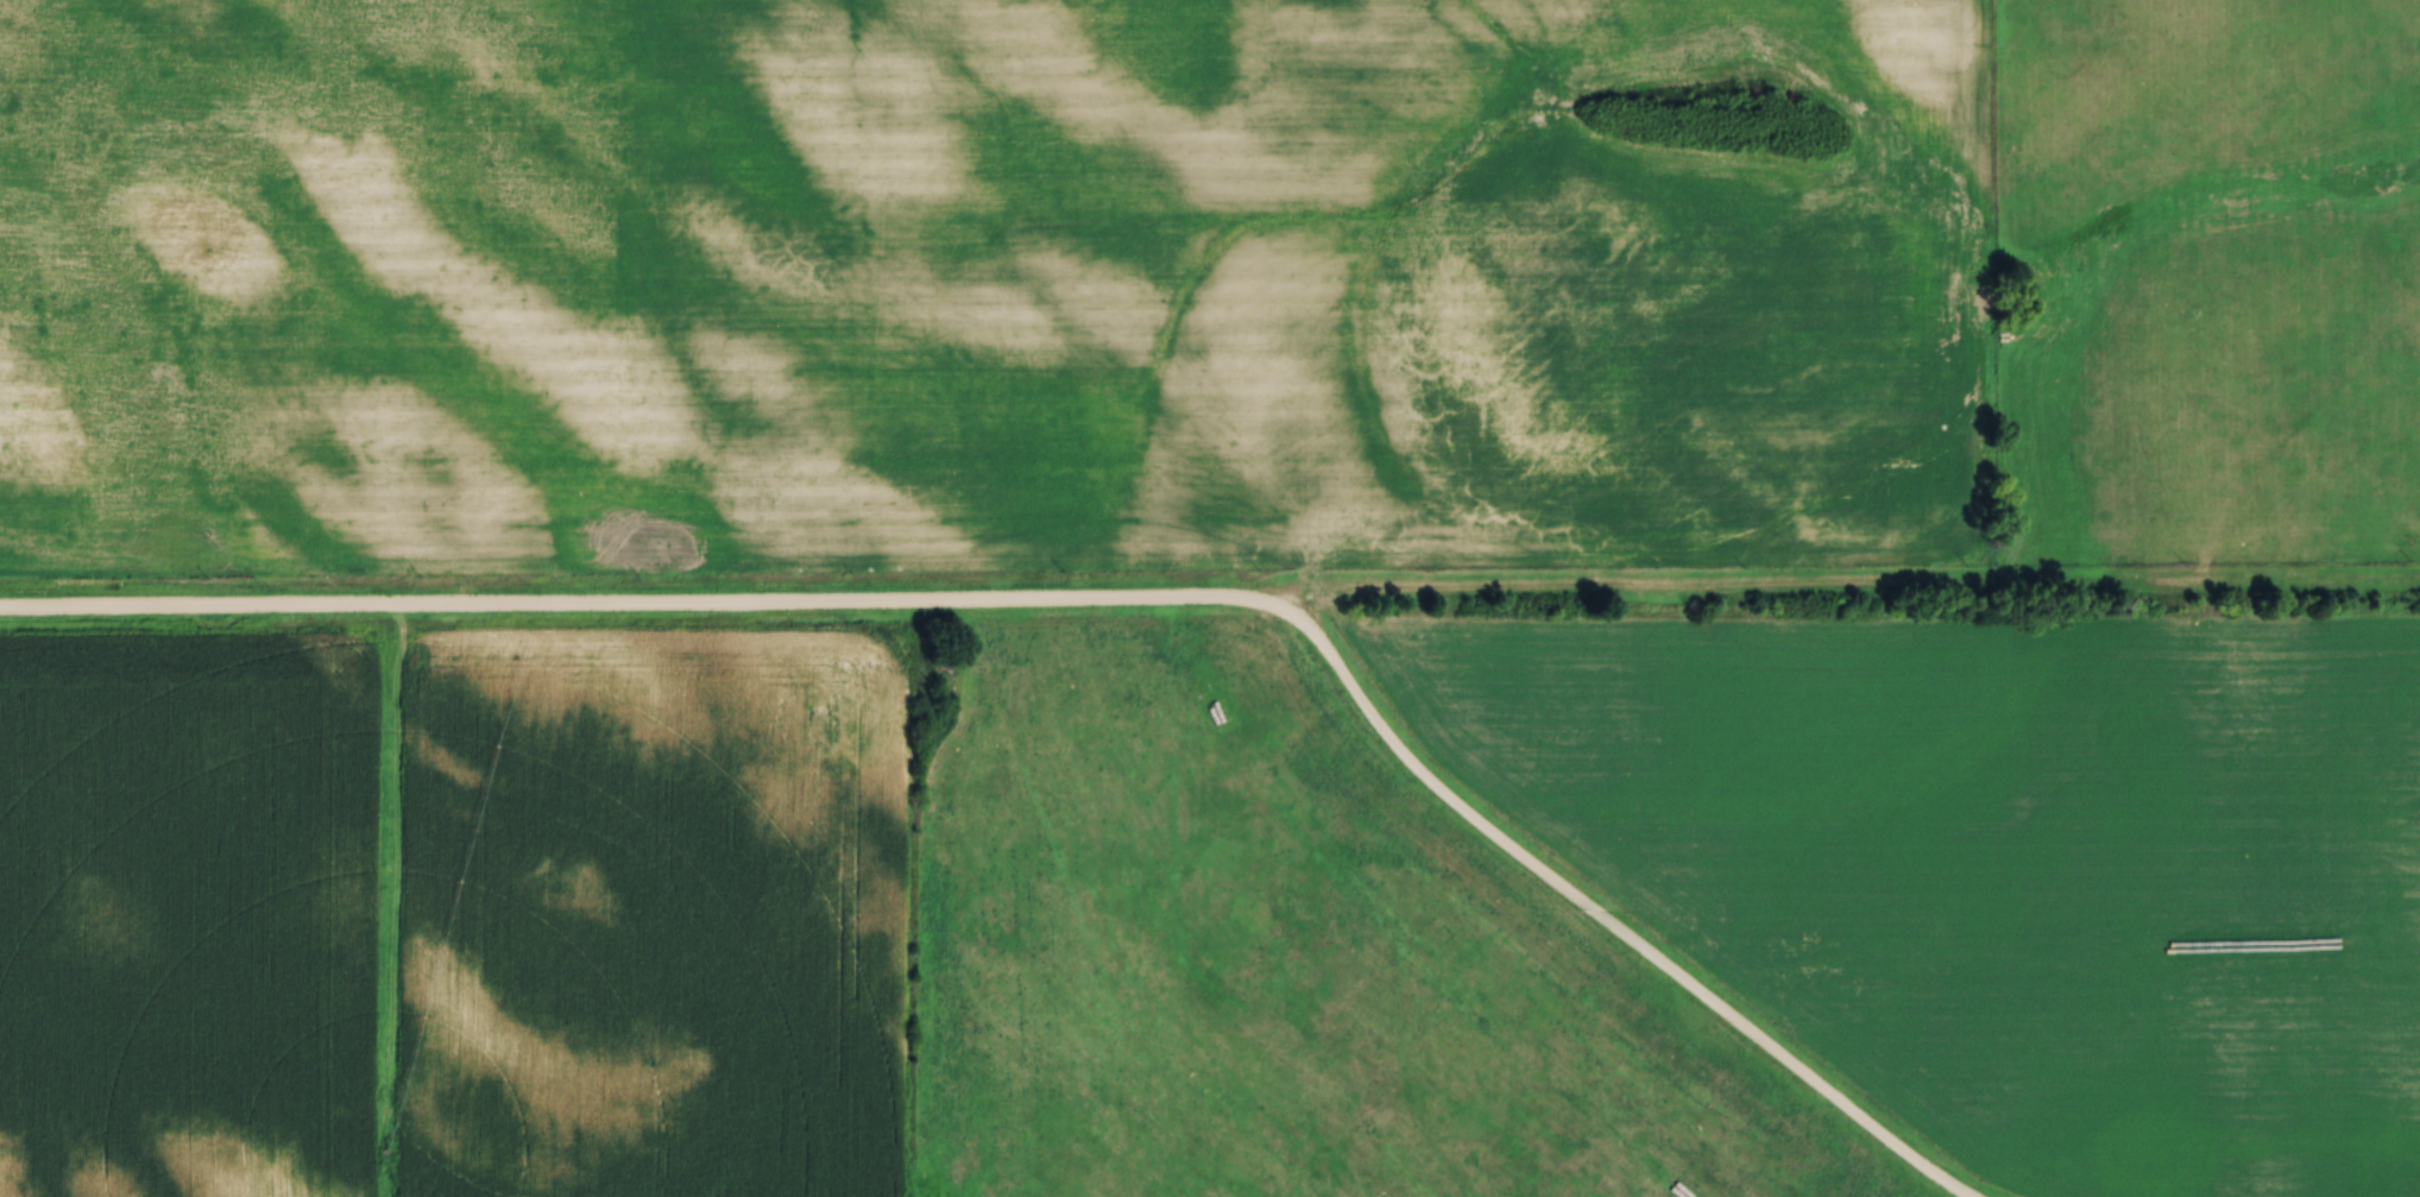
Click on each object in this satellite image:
road: (630, 605)
road: (1596, 915)

